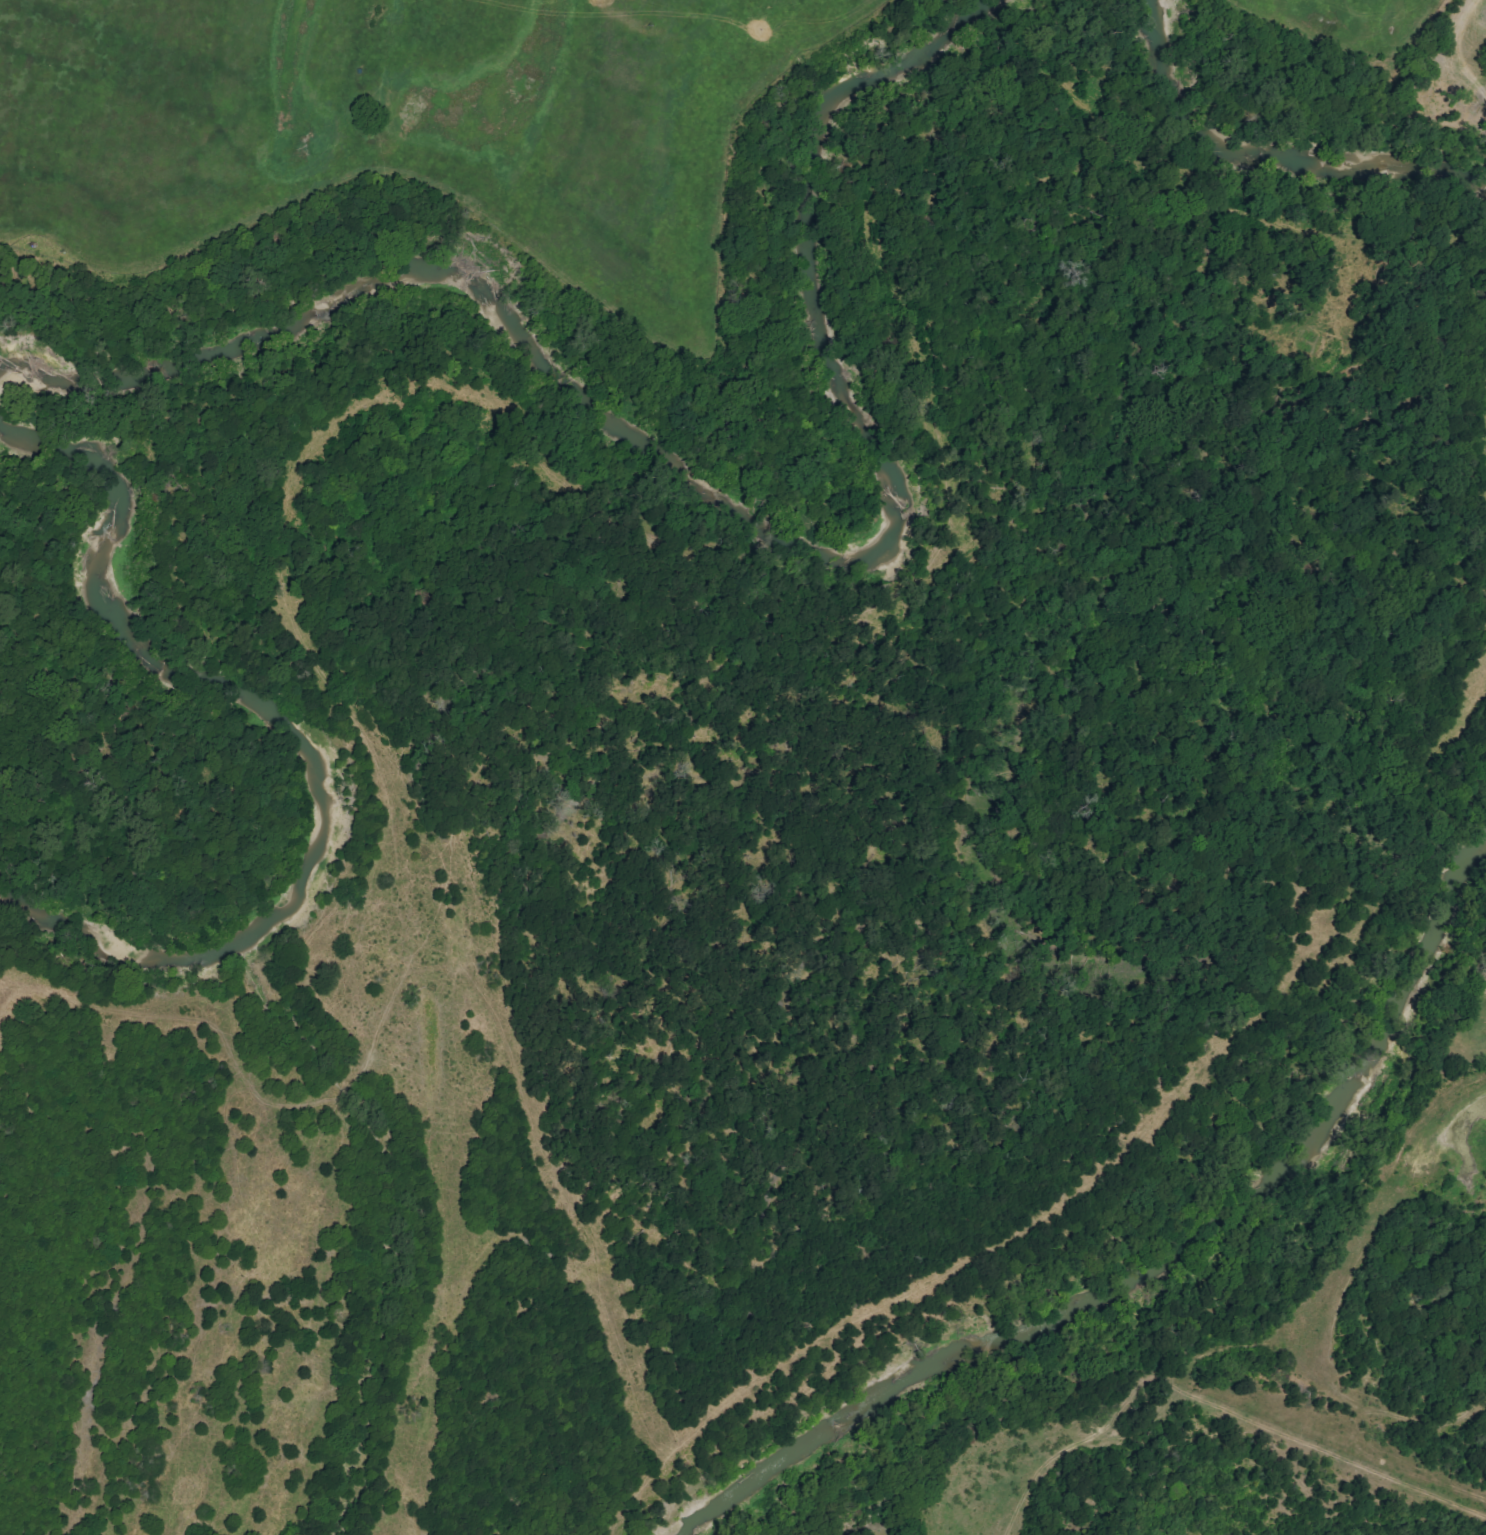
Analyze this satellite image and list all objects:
river: (1269, 149)
river: (296, 318)

